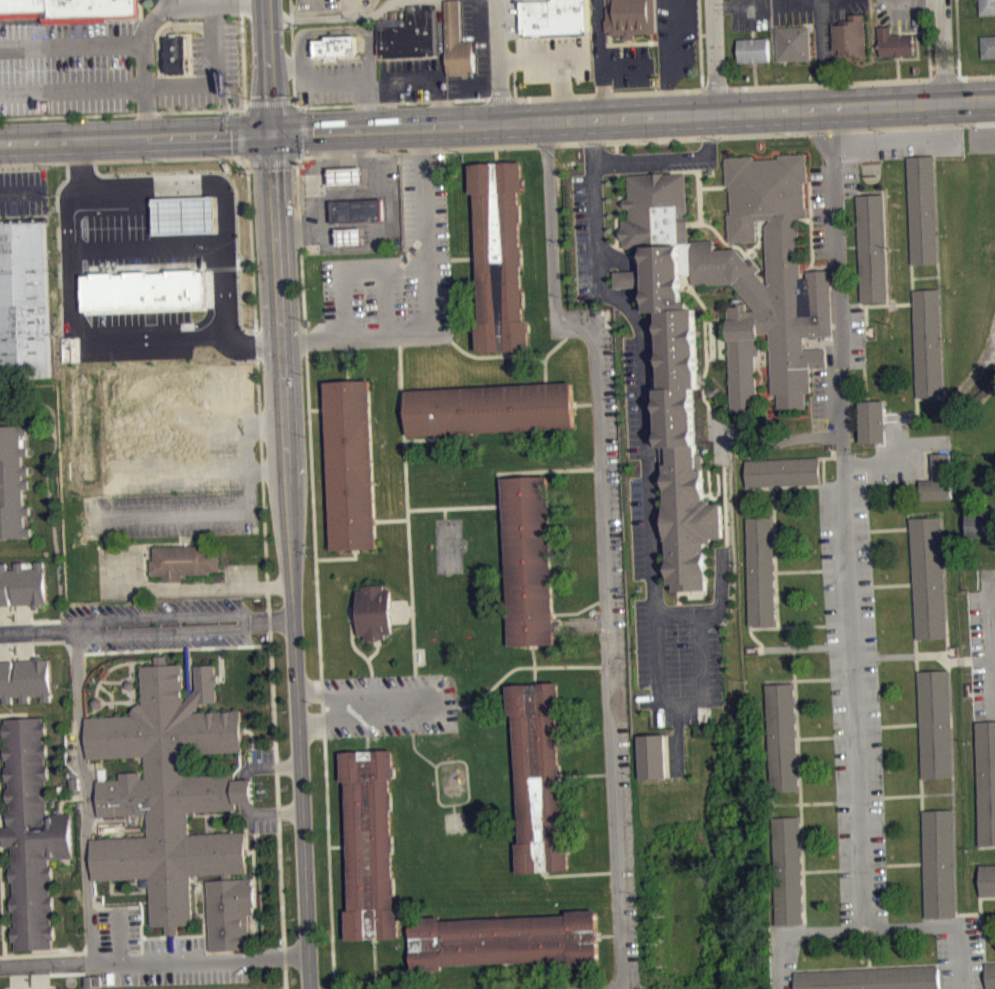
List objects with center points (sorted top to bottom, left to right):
road: (783, 0)
building: (354, 1)
road: (915, 1)
road: (178, 2)
parking lot: (316, 4)
road: (316, 5)
road: (740, 6)
building: (987, 7)
building: (67, 9)
parking lot: (814, 10)
parking lot: (900, 13)
parking lot: (750, 15)
building: (554, 16)
building: (630, 16)
road: (333, 17)
road: (149, 19)
road: (164, 32)
road: (600, 34)
building: (409, 35)
building: (851, 35)
road: (957, 37)
road: (928, 38)
parking lot: (676, 39)
building: (457, 42)
building: (793, 42)
building: (894, 42)
building: (338, 44)
road: (700, 44)
building: (988, 45)
road: (72, 46)
building: (755, 49)
road: (943, 50)
road: (823, 52)
building: (177, 55)
road: (292, 55)
road: (714, 55)
parking lot: (616, 56)
road: (673, 56)
parking lot: (482, 57)
road: (545, 57)
parking lot: (554, 58)
road: (500, 61)
road: (944, 65)
parking lot: (66, 67)
road: (268, 67)
road: (605, 68)
parking lot: (206, 69)
road: (977, 75)
parking lot: (411, 79)
parking lot: (331, 81)
road: (370, 81)
road: (828, 81)
road: (151, 87)
road: (714, 87)
road: (561, 88)
road: (586, 94)
road: (501, 98)
road: (246, 101)
road: (268, 101)
road: (291, 101)
road: (393, 103)
road: (372, 107)
road: (175, 110)
road: (633, 114)
road: (240, 132)
road: (302, 132)
traffic signals: (272, 135)
road: (136, 139)
road: (644, 140)
road: (905, 143)
road: (616, 146)
parking lot: (896, 148)
road: (672, 157)
road: (124, 158)
road: (617, 161)
road: (272, 162)
gas station: (348, 174)
building: (347, 182)
road: (712, 185)
road: (699, 188)
road: (111, 192)
road: (14, 198)
road: (597, 204)
road: (884, 207)
building: (923, 208)
building: (358, 209)
parking lot: (819, 210)
road: (811, 223)
road: (617, 225)
gas station: (352, 235)
parking lot: (584, 235)
road: (910, 238)
building: (351, 243)
road: (300, 245)
road: (739, 247)
building: (872, 247)
road: (188, 248)
road: (637, 256)
road: (837, 256)
road: (463, 257)
building: (500, 257)
road: (858, 263)
road: (811, 265)
parking lot: (395, 275)
road: (638, 278)
road: (629, 279)
road: (939, 282)
road: (601, 289)
road: (638, 291)
road: (387, 295)
road: (343, 298)
building: (24, 300)
road: (889, 303)
road: (428, 304)
road: (866, 312)
road: (81, 328)
parking lot: (857, 338)
road: (706, 339)
road: (305, 342)
building: (930, 342)
road: (915, 354)
road: (475, 355)
road: (522, 355)
road: (546, 356)
road: (657, 361)
road: (347, 364)
building: (790, 374)
road: (761, 377)
road: (701, 384)
road: (401, 392)
parking lot: (631, 396)
road: (770, 397)
parking lot: (820, 398)
road: (582, 403)
road: (317, 409)
building: (490, 409)
road: (917, 412)
road: (767, 416)
building: (874, 421)
road: (767, 437)
road: (646, 439)
road: (722, 450)
road: (834, 453)
road: (404, 456)
road: (779, 458)
road: (874, 461)
building: (351, 464)
road: (710, 468)
road: (824, 468)
road: (555, 469)
building: (783, 471)
road: (498, 477)
building: (937, 478)
building: (13, 482)
road: (822, 482)
road: (796, 486)
road: (759, 487)
road: (50, 491)
road: (726, 508)
road: (445, 512)
road: (847, 514)
road: (313, 516)
road: (392, 520)
building: (980, 523)
parking lot: (637, 527)
road: (889, 529)
road: (859, 530)
road: (409, 544)
park: (449, 544)
road: (601, 548)
road: (338, 557)
building: (184, 560)
building: (529, 560)
road: (290, 561)
building: (762, 568)
road: (800, 570)
road: (990, 573)
road: (267, 575)
road: (848, 576)
building: (927, 577)
building: (24, 584)
road: (892, 584)
road: (225, 588)
road: (680, 592)
road: (724, 592)
road: (579, 610)
building: (372, 611)
road: (167, 616)
road: (944, 619)
road: (274, 620)
road: (839, 623)
parking lot: (167, 625)
road: (774, 627)
parking lot: (616, 628)
road: (40, 629)
road: (168, 632)
road: (32, 641)
road: (352, 645)
road: (74, 646)
road: (245, 646)
road: (702, 646)
road: (989, 646)
road: (807, 647)
road: (170, 648)
road: (375, 650)
road: (793, 650)
parking lot: (982, 651)
road: (913, 653)
road: (923, 654)
road: (982, 657)
road: (660, 659)
parking lot: (679, 660)
road: (571, 666)
road: (851, 666)
road: (105, 675)
road: (535, 675)
road: (503, 677)
road: (795, 678)
road: (131, 679)
building: (26, 680)
road: (111, 681)
road: (108, 691)
road: (362, 692)
road: (110, 702)
parking lot: (854, 702)
road: (413, 703)
road: (430, 703)
road: (368, 705)
parking lot: (384, 705)
road: (443, 706)
road: (322, 709)
road: (13, 713)
road: (84, 714)
road: (363, 719)
road: (984, 719)
building: (932, 722)
road: (898, 724)
road: (856, 731)
road: (251, 735)
building: (781, 736)
road: (813, 737)
road: (366, 744)
building: (653, 755)
parking lot: (259, 760)
road: (268, 766)
road: (587, 774)
building: (540, 777)
building: (985, 779)
road: (799, 787)
road: (246, 790)
road: (901, 795)
road: (89, 796)
road: (65, 798)
road: (859, 799)
road: (803, 802)
building: (176, 803)
road: (446, 804)
road: (89, 808)
road: (239, 812)
road: (270, 812)
road: (226, 813)
road: (198, 814)
road: (119, 818)
parking lot: (261, 819)
road: (253, 821)
road: (229, 828)
road: (921, 831)
building: (32, 832)
road: (257, 841)
building: (370, 844)
road: (338, 845)
road: (988, 846)
road: (89, 851)
road: (254, 863)
road: (329, 863)
road: (905, 863)
building: (940, 863)
road: (862, 866)
building: (788, 869)
road: (820, 870)
road: (578, 873)
building: (988, 878)
road: (980, 881)
road: (113, 891)
road: (981, 909)
road: (201, 914)
parking lot: (1, 917)
road: (960, 919)
road: (925, 922)
road: (205, 924)
road: (941, 926)
road: (806, 927)
road: (868, 932)
road: (796, 933)
road: (156, 936)
road: (4, 938)
building: (506, 940)
road: (869, 950)
road: (90, 952)
parking lot: (152, 954)
road: (232, 954)
road: (2, 955)
parking lot: (785, 956)
parking lot: (964, 956)
road: (153, 961)
road: (990, 961)
road: (962, 962)
road: (868, 967)
building: (991, 975)
building: (871, 978)

